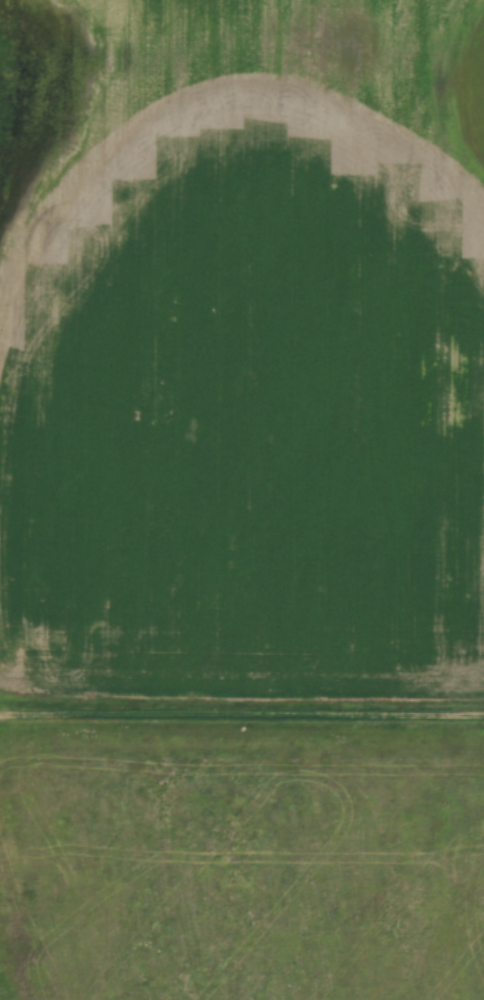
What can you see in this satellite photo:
road: (242, 715)

